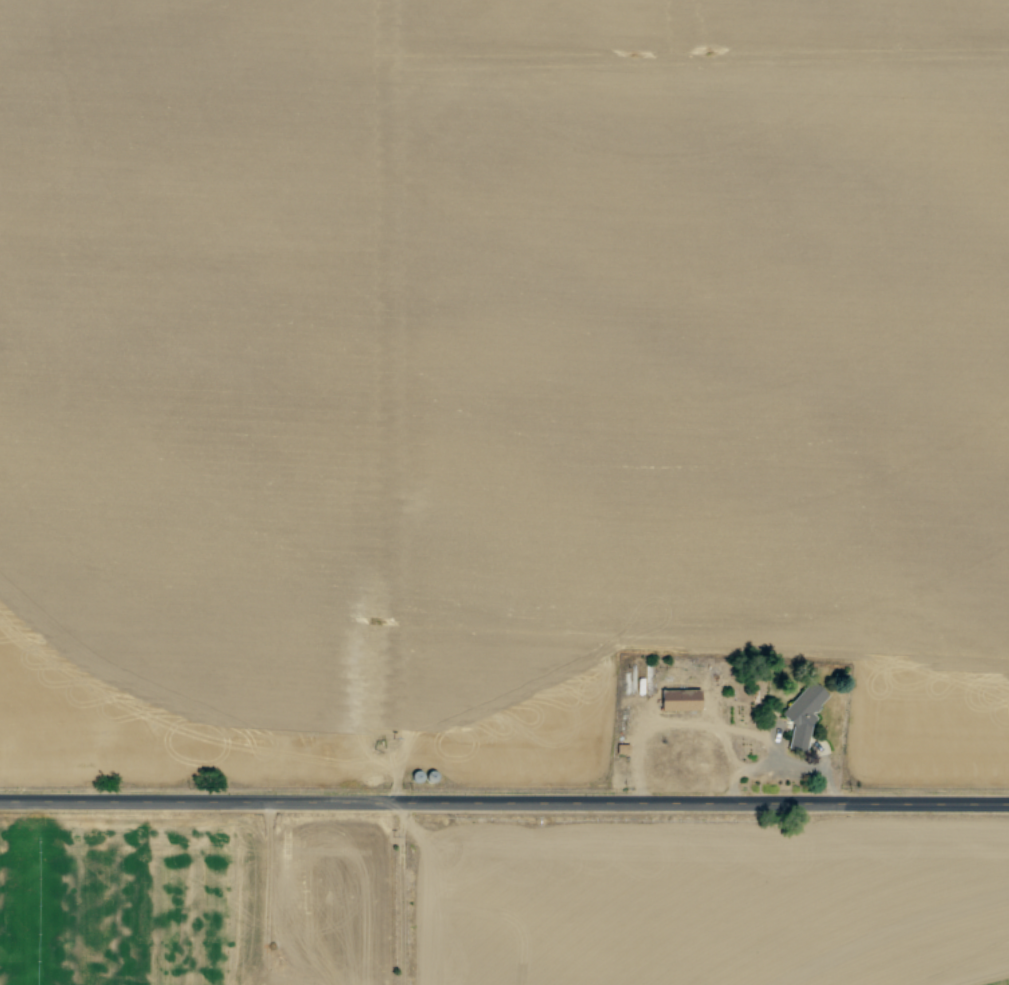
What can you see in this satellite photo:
building: (679, 699)
building: (803, 712)
road: (504, 806)

